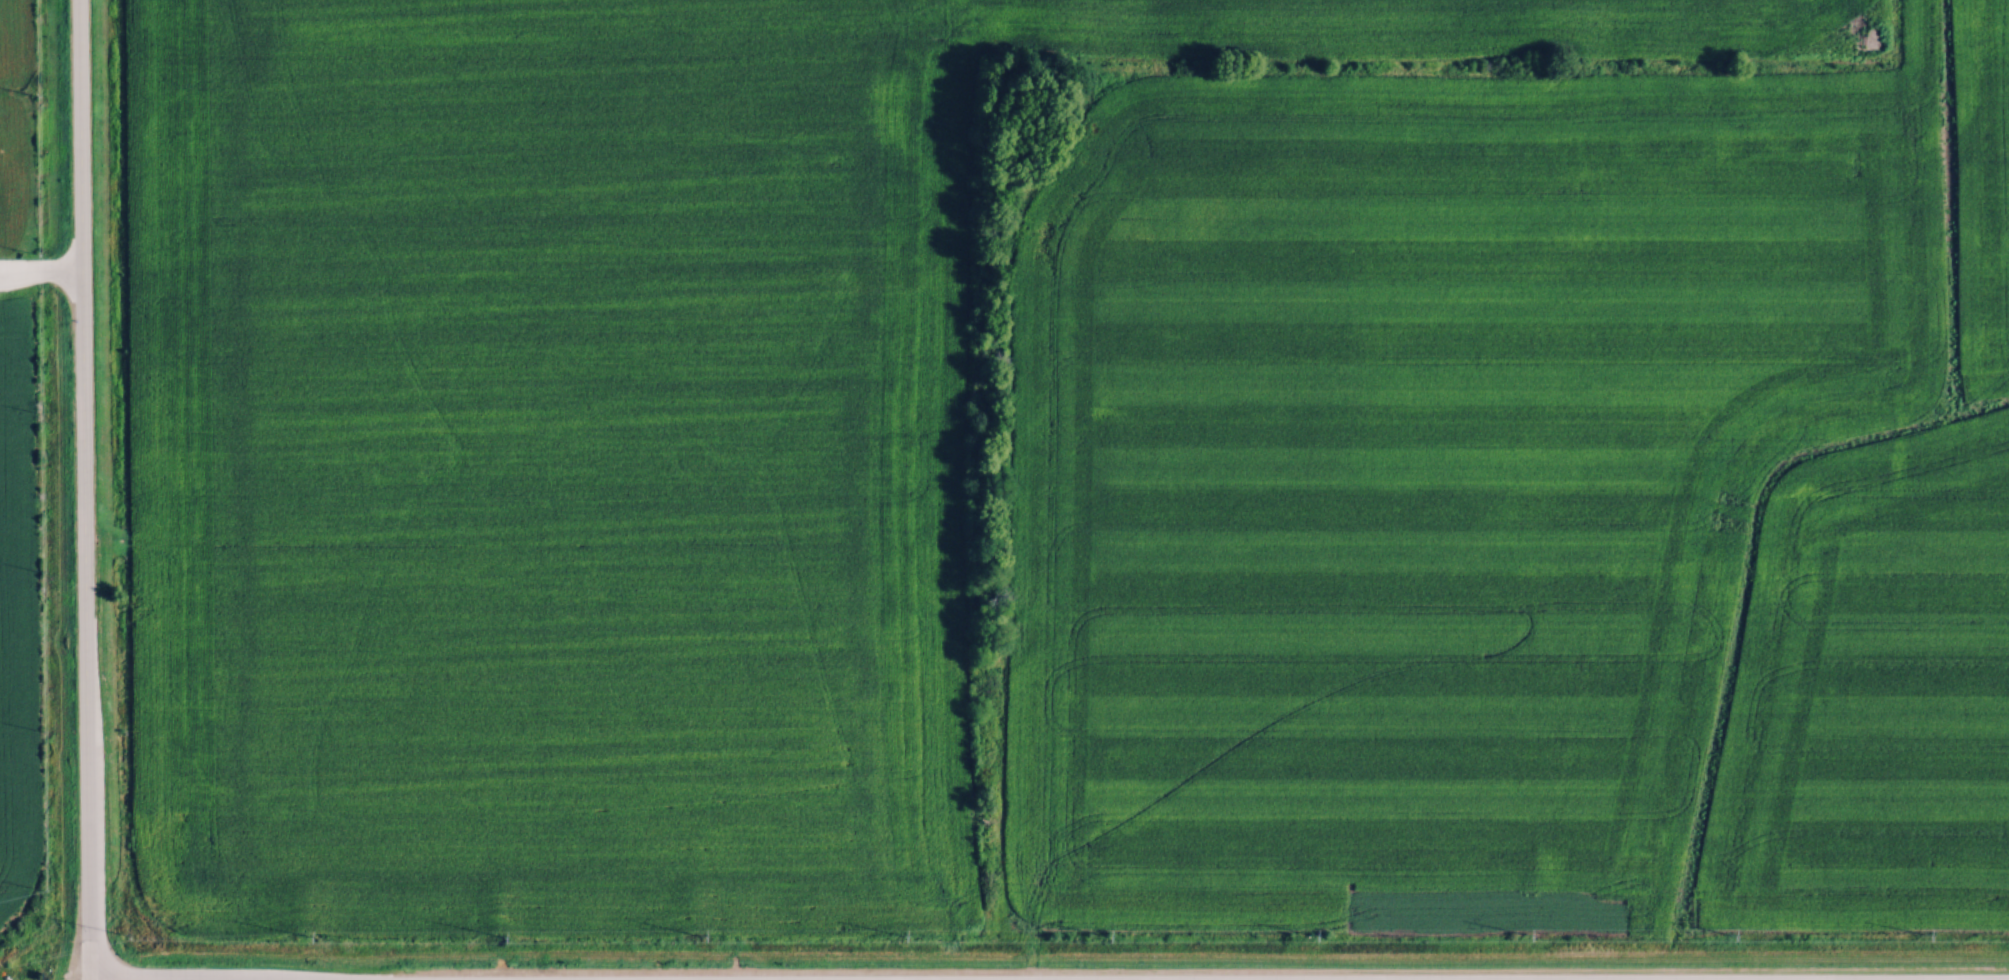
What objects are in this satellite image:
road: (40, 271)
road: (82, 490)
power tower: (119, 935)
power tower: (301, 936)
power tower: (1102, 936)
power tower: (1308, 936)
power tower: (1522, 936)
power tower: (1727, 936)
power tower: (1922, 936)
power tower: (496, 937)
power tower: (896, 937)
power tower: (695, 938)

